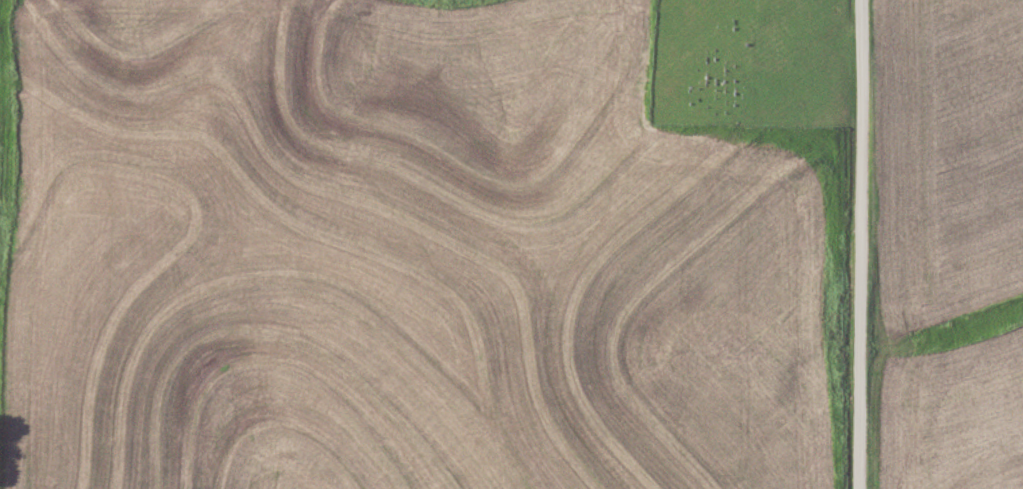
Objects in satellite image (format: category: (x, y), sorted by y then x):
road: (857, 244)

